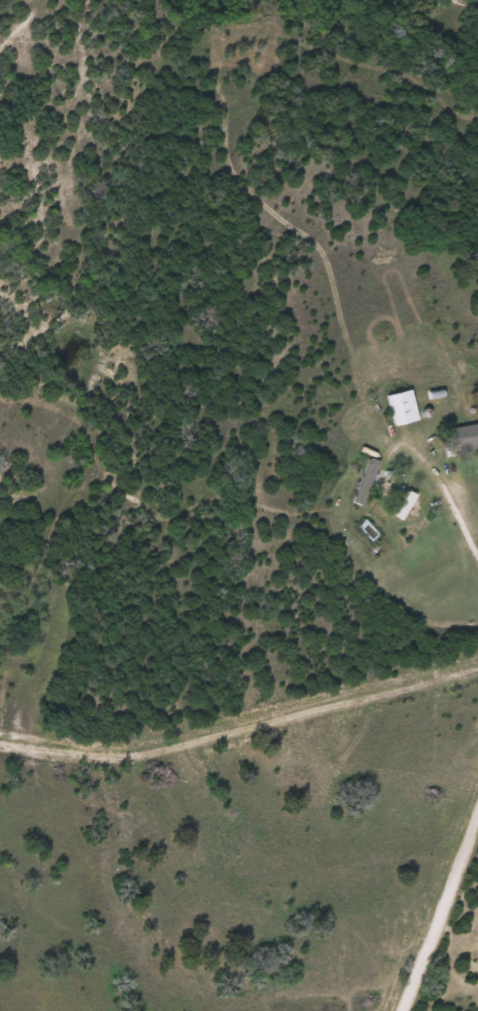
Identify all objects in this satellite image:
road: (458, 280)
building: (405, 407)
building: (465, 438)
road: (435, 916)

